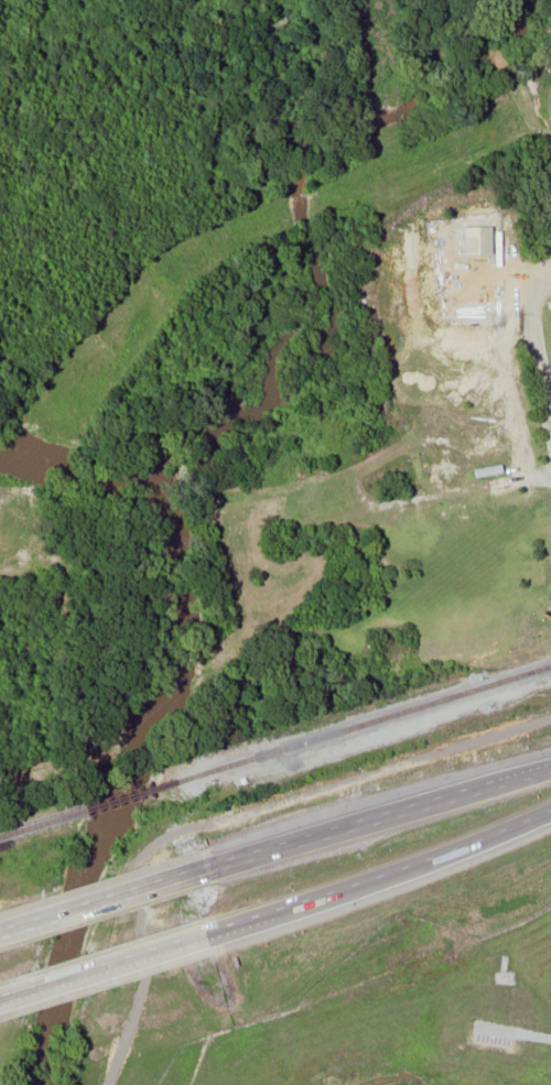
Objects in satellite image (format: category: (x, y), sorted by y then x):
building: (364, 544)
river: (132, 709)
railway: (364, 723)
road: (536, 774)
railway: (133, 794)
railway: (45, 822)
road: (370, 822)
road: (458, 846)
road: (109, 899)
road: (288, 908)
road: (104, 966)
airport: (364, 1005)

